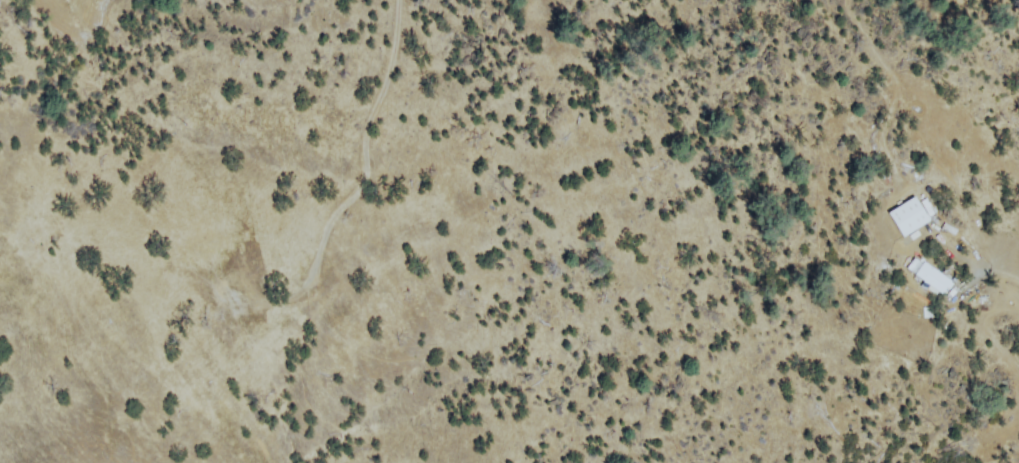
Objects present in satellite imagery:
building: (912, 215)
building: (950, 228)
building: (974, 230)
building: (933, 278)
building: (928, 313)

